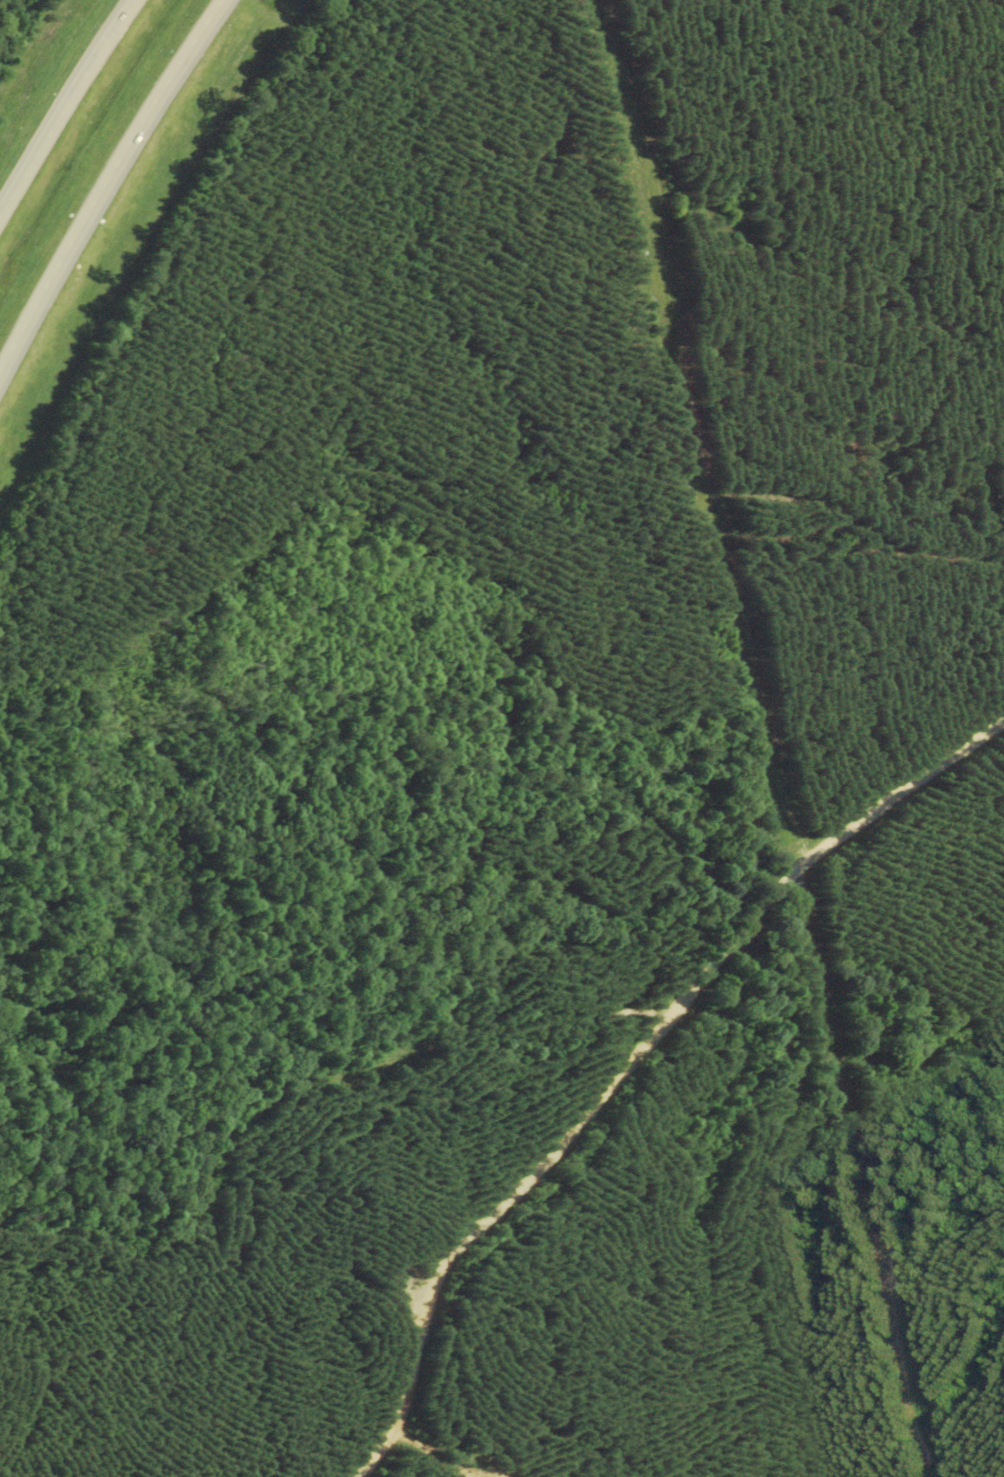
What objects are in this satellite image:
road: (64, 105)
road: (105, 182)
road: (633, 1062)

